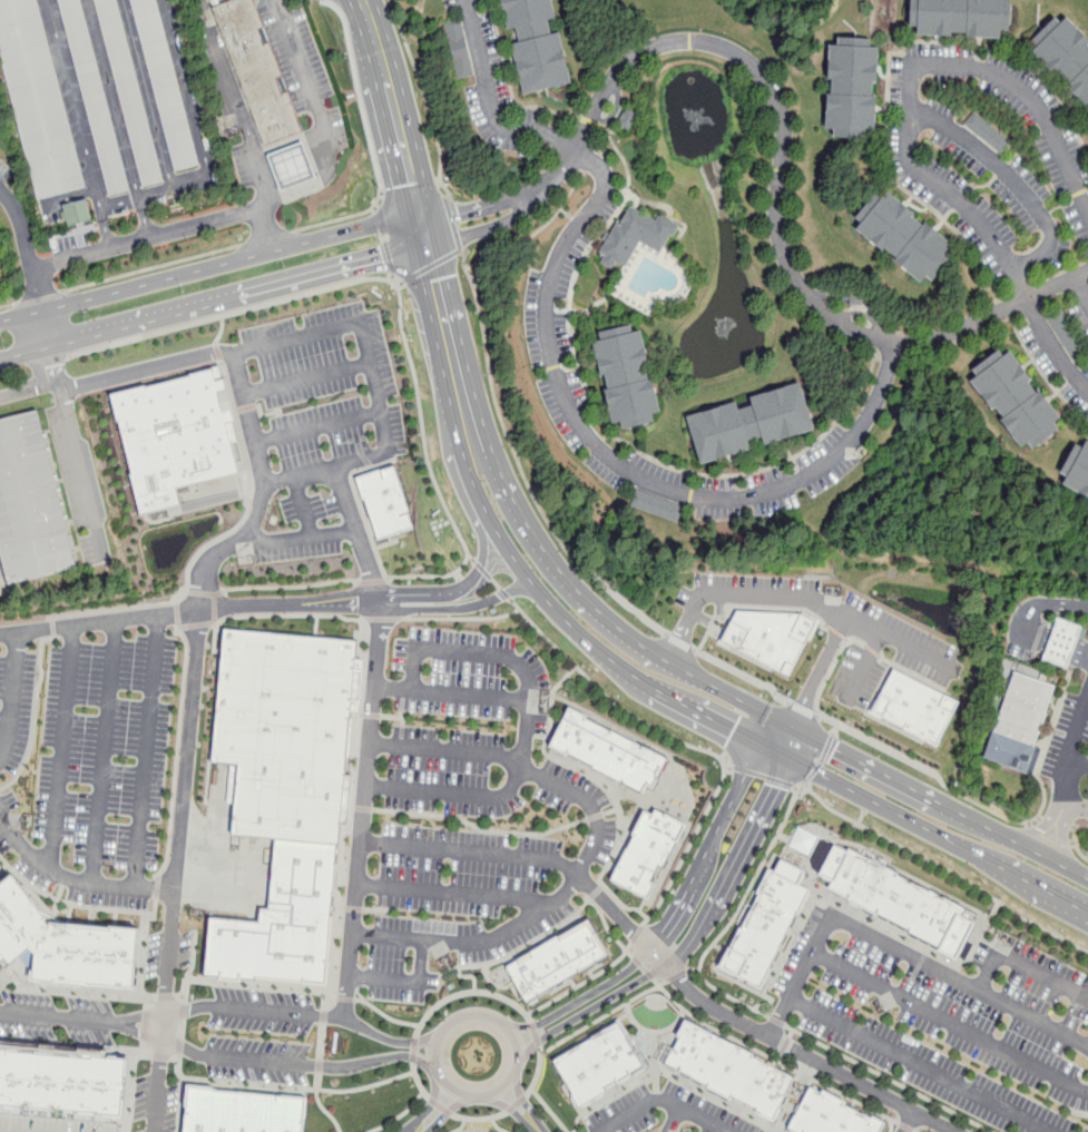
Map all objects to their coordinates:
building: (963, 20)
building: (540, 46)
building: (459, 48)
building: (1068, 58)
building: (255, 69)
building: (165, 85)
road: (186, 89)
building: (855, 90)
building: (129, 91)
road: (148, 95)
building: (94, 97)
building: (37, 99)
road: (428, 99)
road: (235, 100)
road: (491, 104)
road: (393, 107)
road: (118, 118)
road: (321, 122)
road: (78, 125)
building: (987, 131)
road: (910, 137)
road: (290, 140)
road: (370, 140)
building: (288, 166)
road: (780, 181)
road: (1016, 181)
traffic signals: (410, 184)
road: (154, 194)
road: (521, 198)
road: (375, 208)
road: (463, 211)
building: (79, 213)
traffic signals: (459, 214)
road: (380, 220)
road: (453, 224)
road: (484, 229)
road: (167, 233)
road: (421, 233)
building: (636, 235)
road: (266, 237)
road: (384, 237)
building: (906, 239)
road: (27, 247)
road: (389, 257)
traffic signals: (383, 259)
road: (432, 265)
road: (208, 266)
road: (153, 267)
road: (391, 277)
traffic signals: (433, 280)
road: (400, 284)
road: (1082, 287)
road: (40, 296)
road: (238, 297)
road: (400, 301)
road: (9, 304)
road: (47, 328)
road: (222, 329)
road: (447, 337)
road: (218, 351)
road: (26, 352)
road: (59, 358)
road: (147, 368)
road: (306, 377)
building: (631, 385)
road: (375, 386)
road: (29, 387)
road: (273, 397)
building: (1018, 404)
road: (247, 407)
road: (235, 410)
road: (275, 411)
road: (263, 414)
road: (235, 415)
road: (280, 425)
road: (318, 426)
building: (753, 427)
building: (174, 434)
parking lot: (308, 434)
road: (76, 452)
road: (367, 462)
road: (619, 464)
road: (370, 466)
road: (520, 466)
road: (468, 469)
building: (1077, 472)
road: (246, 484)
road: (264, 491)
road: (345, 499)
building: (30, 503)
building: (384, 503)
road: (360, 505)
road: (303, 506)
road: (487, 514)
road: (298, 538)
road: (210, 541)
road: (482, 557)
road: (471, 558)
road: (551, 559)
road: (449, 560)
road: (367, 564)
road: (482, 569)
road: (372, 581)
road: (496, 583)
road: (533, 584)
road: (290, 587)
road: (421, 590)
road: (205, 592)
road: (506, 593)
road: (800, 598)
road: (457, 607)
road: (754, 607)
road: (1042, 607)
road: (214, 609)
road: (188, 610)
road: (288, 614)
road: (384, 618)
road: (462, 618)
road: (835, 631)
building: (771, 636)
road: (847, 639)
road: (680, 641)
building: (1059, 644)
road: (1059, 649)
road: (872, 650)
parking lot: (1019, 654)
road: (619, 665)
road: (864, 666)
road: (928, 667)
road: (831, 668)
road: (574, 669)
road: (819, 670)
road: (911, 672)
road: (743, 675)
road: (922, 677)
road: (556, 687)
road: (880, 687)
road: (722, 690)
road: (451, 693)
road: (10, 695)
road: (402, 700)
building: (915, 707)
road: (803, 709)
road: (401, 713)
road: (360, 715)
road: (371, 716)
road: (707, 716)
road: (395, 717)
road: (787, 724)
building: (1016, 725)
road: (527, 729)
road: (835, 729)
traffic signals: (734, 730)
parking lot: (1067, 732)
road: (2, 735)
road: (401, 735)
road: (684, 742)
road: (794, 744)
road: (61, 747)
road: (826, 747)
traffic signals: (834, 748)
road: (145, 750)
road: (445, 750)
road: (105, 751)
building: (607, 751)
road: (1071, 751)
parking lot: (86, 760)
road: (821, 762)
road: (1078, 766)
road: (727, 767)
road: (813, 774)
road: (763, 776)
road: (747, 778)
road: (806, 786)
road: (909, 786)
traffic signals: (775, 787)
road: (945, 787)
road: (797, 789)
building: (284, 794)
road: (616, 800)
road: (871, 800)
road: (352, 807)
road: (1076, 807)
road: (362, 808)
road: (363, 808)
road: (350, 810)
road: (610, 810)
parking lot: (457, 814)
road: (595, 816)
road: (853, 820)
road: (479, 828)
road: (1053, 828)
parking lot: (1087, 829)
road: (752, 831)
road: (1050, 836)
road: (470, 852)
building: (648, 852)
road: (1080, 854)
road: (1053, 860)
road: (177, 870)
road: (73, 879)
road: (1033, 884)
road: (602, 885)
road: (451, 892)
road: (595, 892)
road: (687, 896)
road: (384, 897)
road: (589, 898)
building: (899, 900)
road: (341, 907)
road: (545, 907)
road: (563, 907)
road: (354, 908)
road: (374, 909)
road: (570, 916)
road: (704, 923)
building: (766, 925)
road: (607, 928)
road: (978, 929)
road: (637, 933)
building: (63, 944)
road: (898, 948)
road: (512, 953)
road: (680, 954)
road: (421, 959)
building: (559, 959)
road: (637, 961)
road: (644, 967)
road: (1023, 967)
road: (693, 969)
road: (3, 973)
road: (650, 974)
road: (676, 974)
road: (382, 977)
road: (737, 982)
road: (251, 983)
road: (73, 990)
road: (179, 996)
road: (165, 997)
road: (345, 997)
road: (584, 997)
road: (731, 997)
road: (147, 1003)
road: (324, 1003)
road: (590, 1008)
road: (183, 1010)
road: (522, 1011)
road: (277, 1012)
road: (147, 1015)
road: (386, 1015)
road: (56, 1016)
road: (323, 1016)
road: (602, 1016)
road: (529, 1017)
road: (777, 1021)
parking lot: (950, 1021)
road: (949, 1022)
road: (146, 1024)
road: (749, 1025)
road: (532, 1026)
road: (182, 1028)
road: (650, 1032)
road: (145, 1033)
road: (536, 1034)
road: (321, 1041)
road: (415, 1041)
road: (538, 1042)
road: (437, 1043)
road: (180, 1045)
road: (76, 1047)
road: (144, 1047)
road: (414, 1050)
road: (160, 1056)
road: (175, 1057)
road: (414, 1057)
road: (771, 1057)
road: (654, 1061)
road: (274, 1062)
building: (602, 1063)
road: (919, 1065)
road: (318, 1066)
road: (517, 1066)
building: (728, 1070)
road: (667, 1071)
road: (538, 1072)
road: (889, 1079)
road: (317, 1081)
road: (418, 1081)
building: (61, 1083)
road: (286, 1085)
road: (522, 1099)
road: (433, 1100)
road: (522, 1100)
road: (665, 1100)
road: (517, 1103)
road: (179, 1105)
road: (430, 1105)
road: (441, 1106)
road: (511, 1109)
road: (511, 1109)
road: (325, 1110)
building: (243, 1111)
road: (447, 1111)
road: (448, 1111)
road: (550, 1111)
parking lot: (665, 1112)
road: (400, 1115)
building: (831, 1115)
road: (480, 1119)
road: (674, 1120)
road: (909, 1121)
building: (51, 1124)
parking garage: (51, 1124)
road: (891, 1125)
road: (905, 1125)
road: (461, 1126)
road: (497, 1126)
road: (537, 1129)
road: (776, 1131)
road: (914, 1131)

